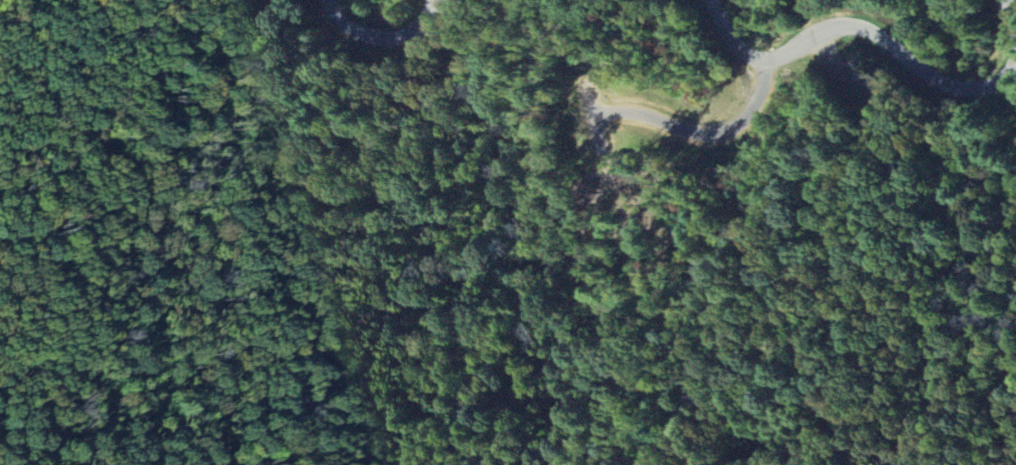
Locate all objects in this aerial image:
road: (1011, 15)
road: (418, 18)
road: (834, 29)
road: (361, 35)
road: (1013, 63)
road: (994, 82)

